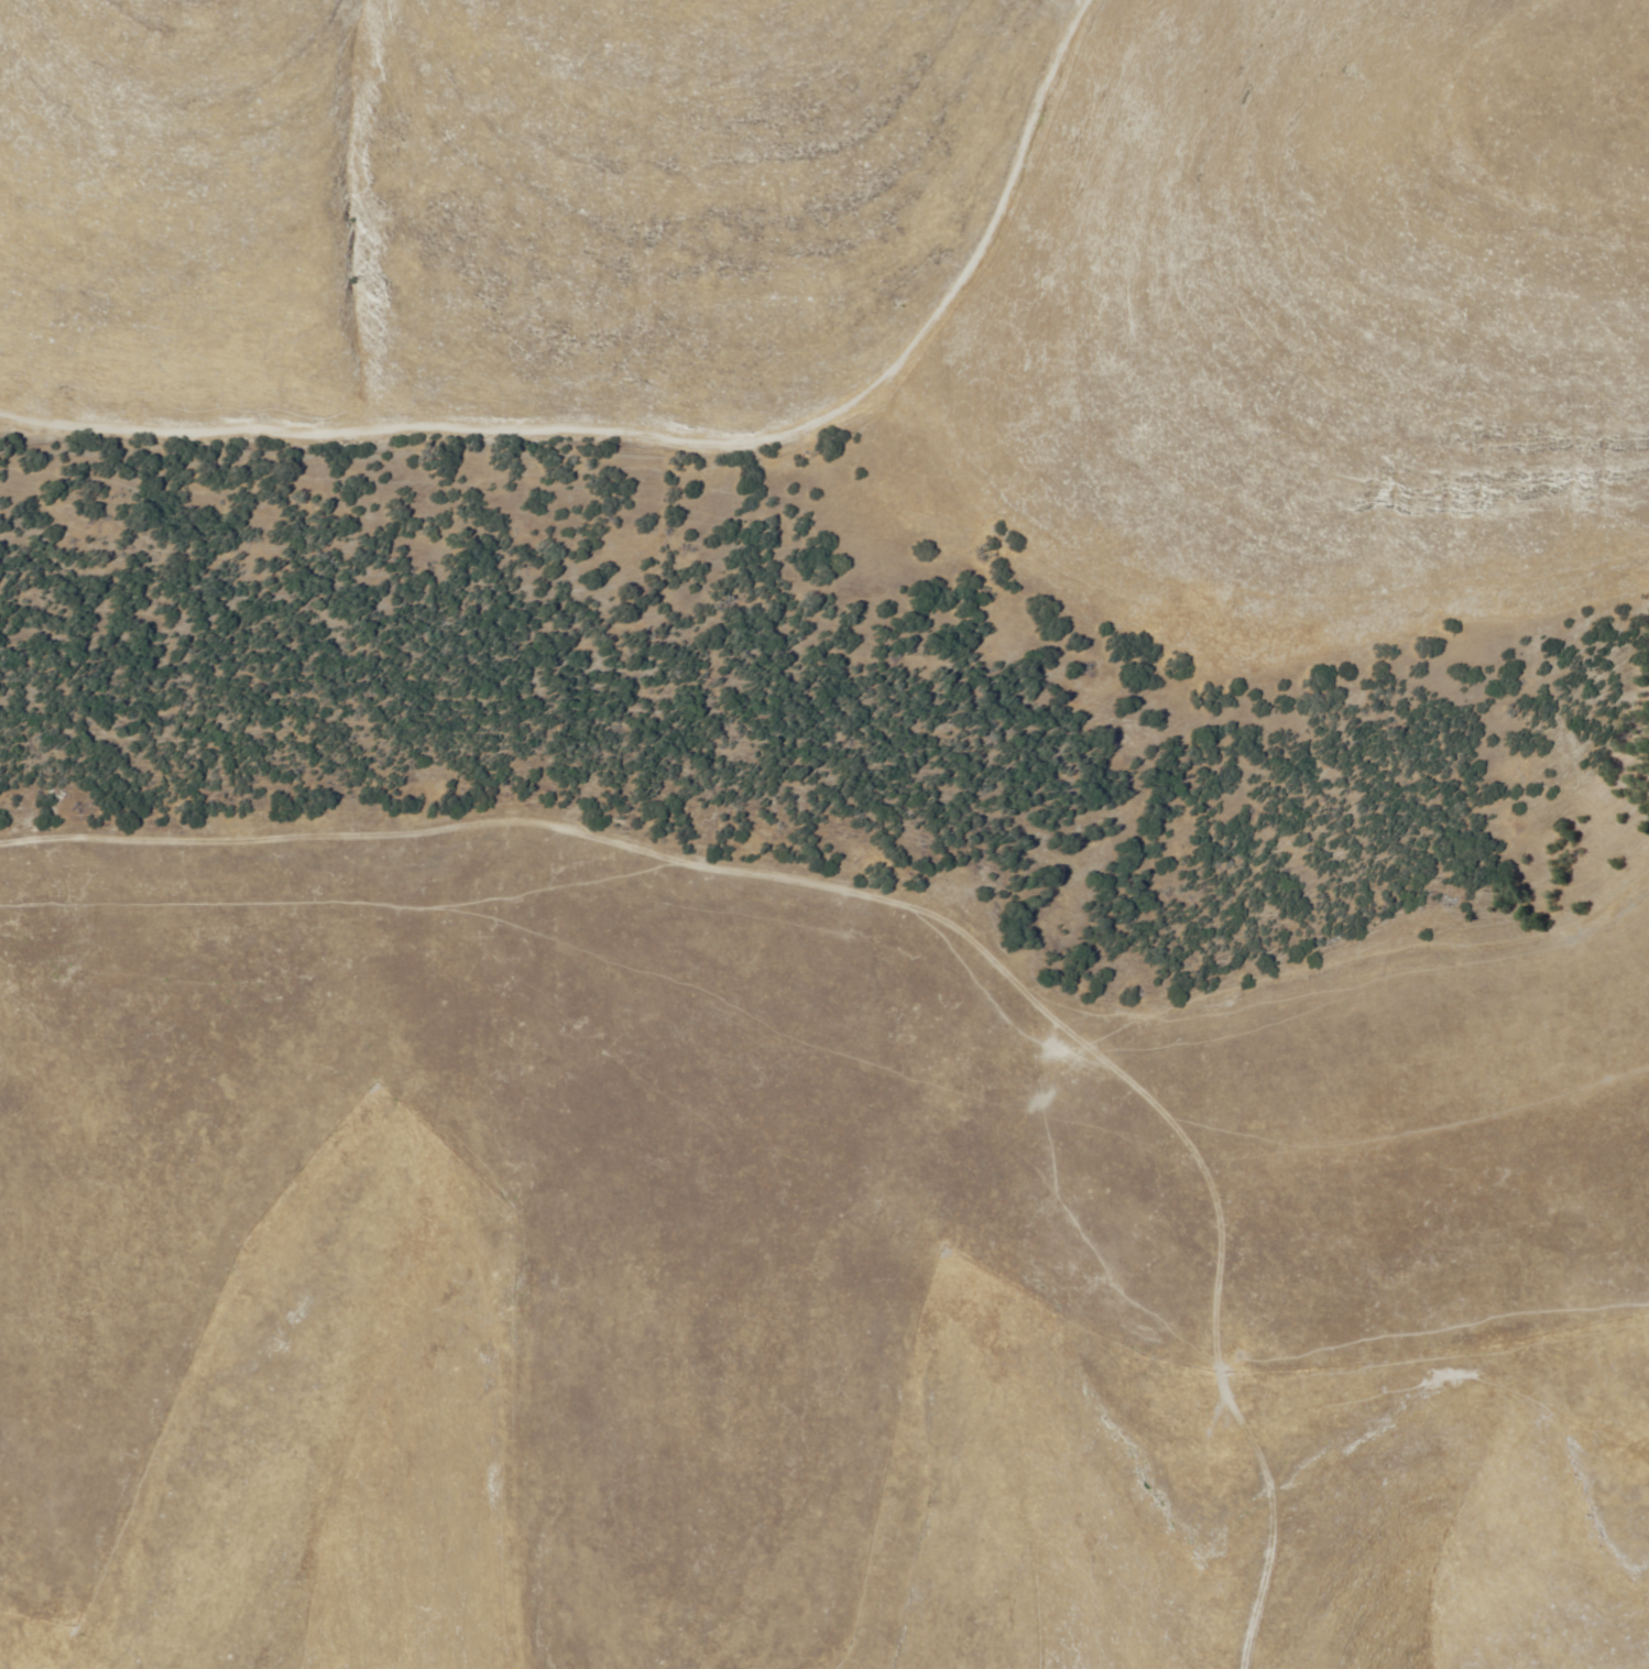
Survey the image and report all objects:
road: (1262, 1600)

